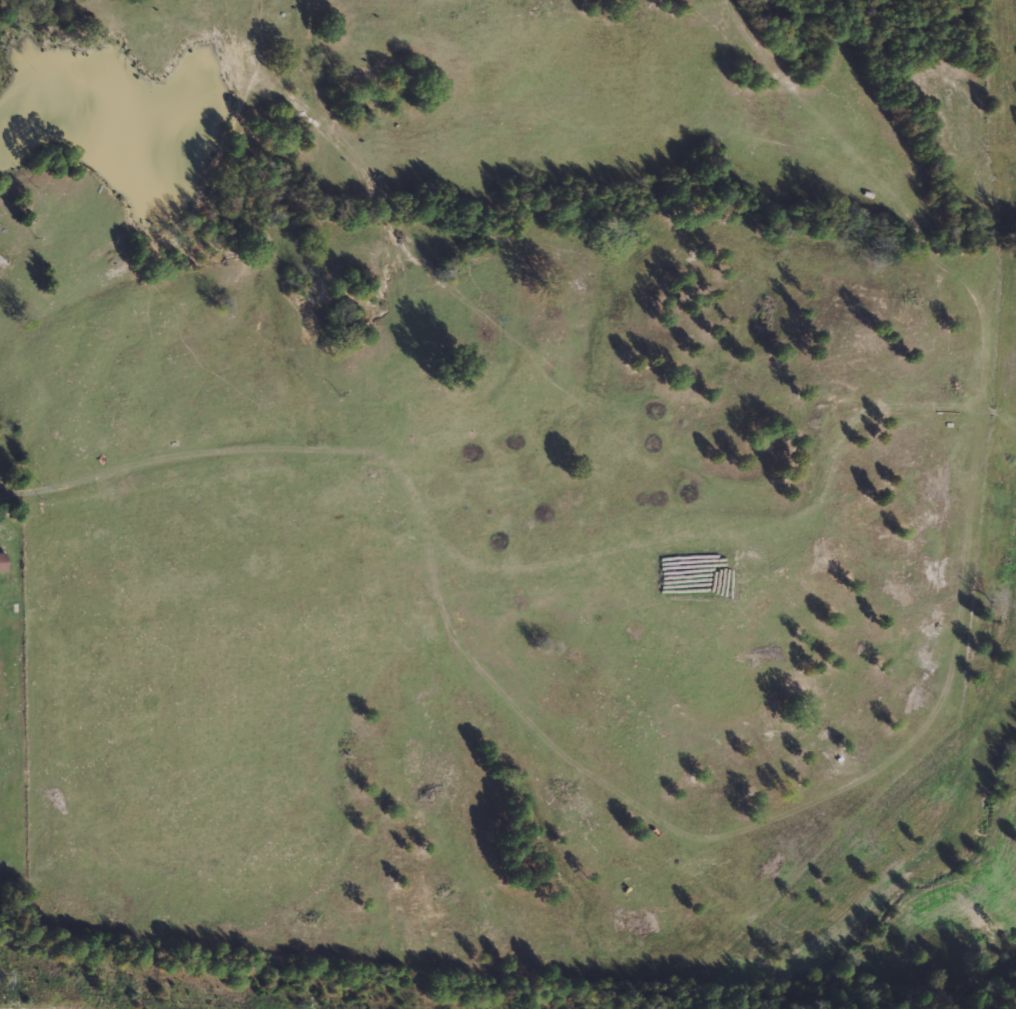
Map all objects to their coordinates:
building: (4, 562)

